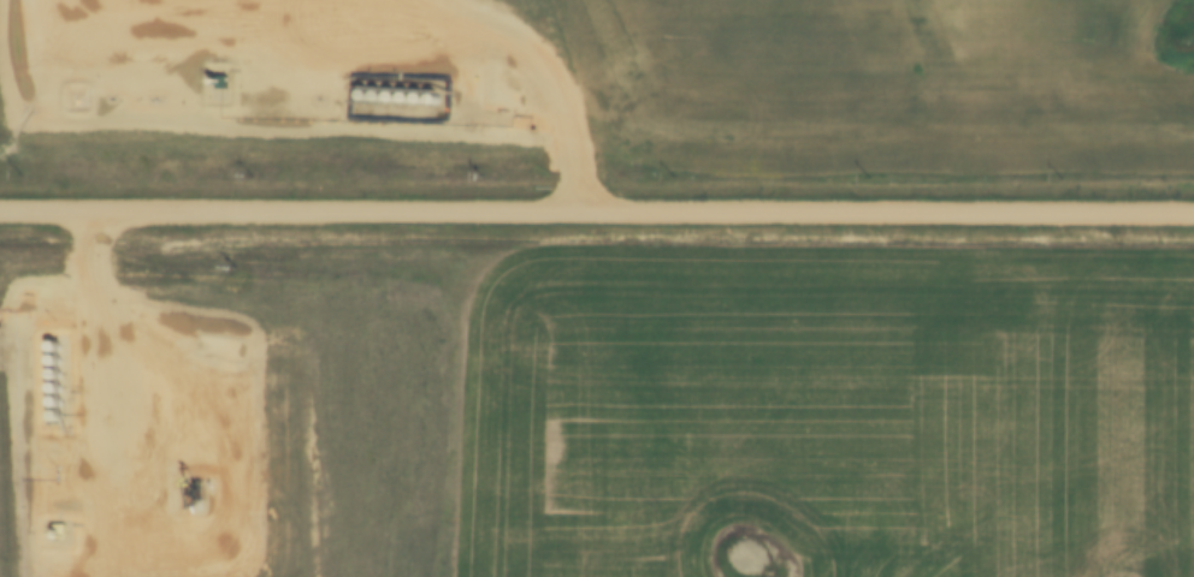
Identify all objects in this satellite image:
road: (596, 239)

